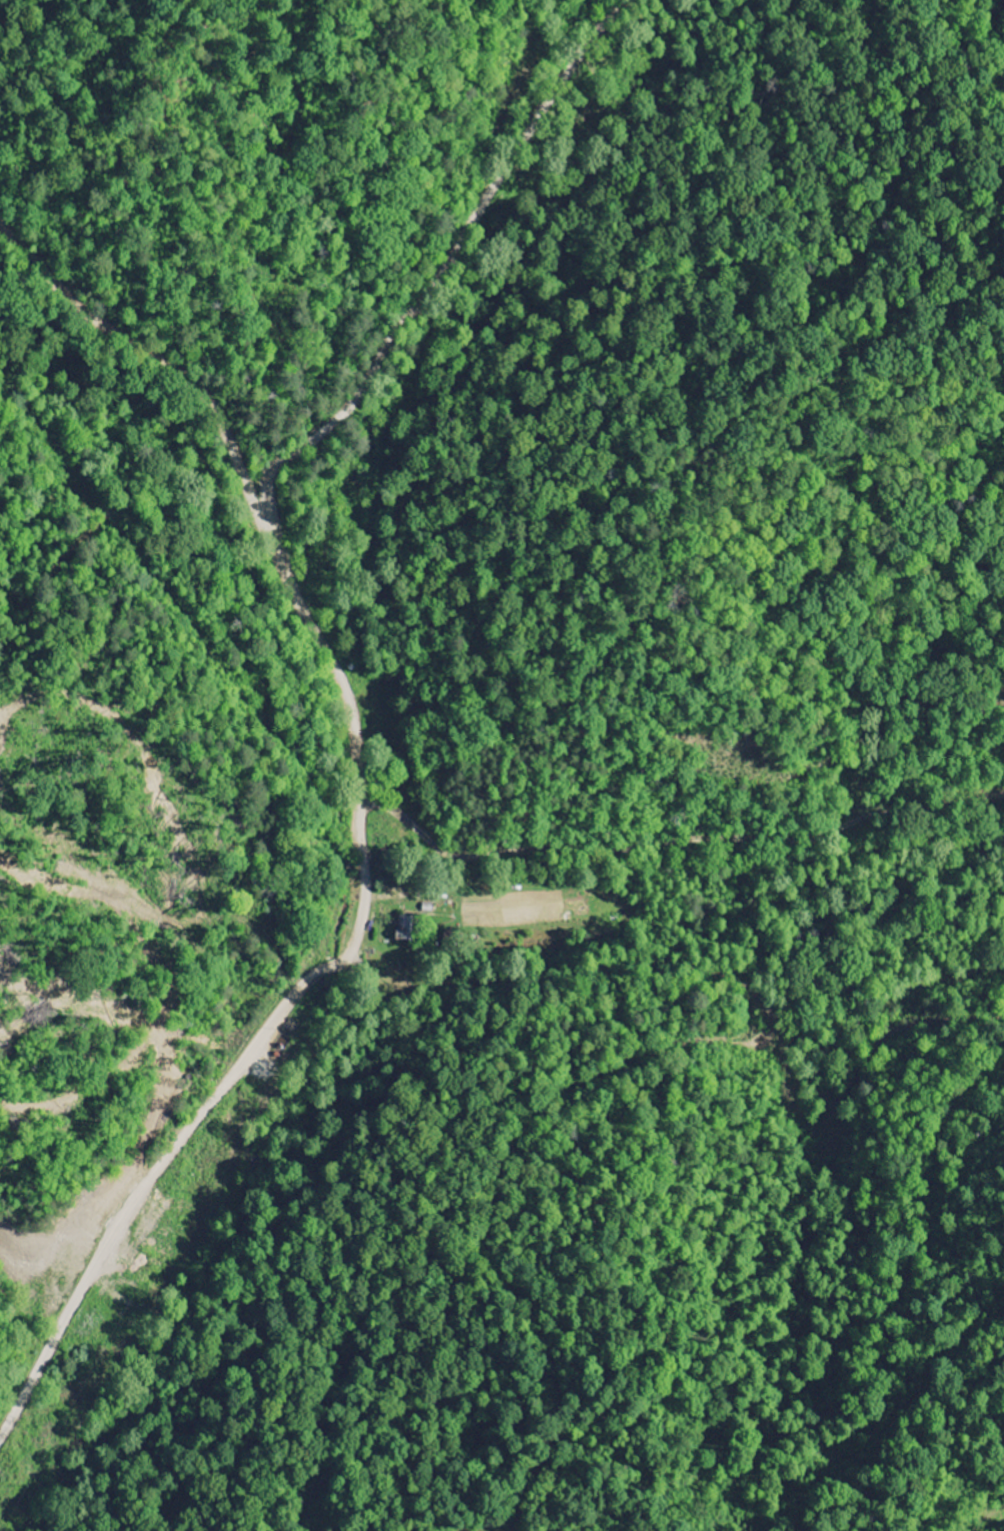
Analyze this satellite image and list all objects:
road: (161, 359)
road: (258, 426)
road: (350, 712)
road: (684, 847)

